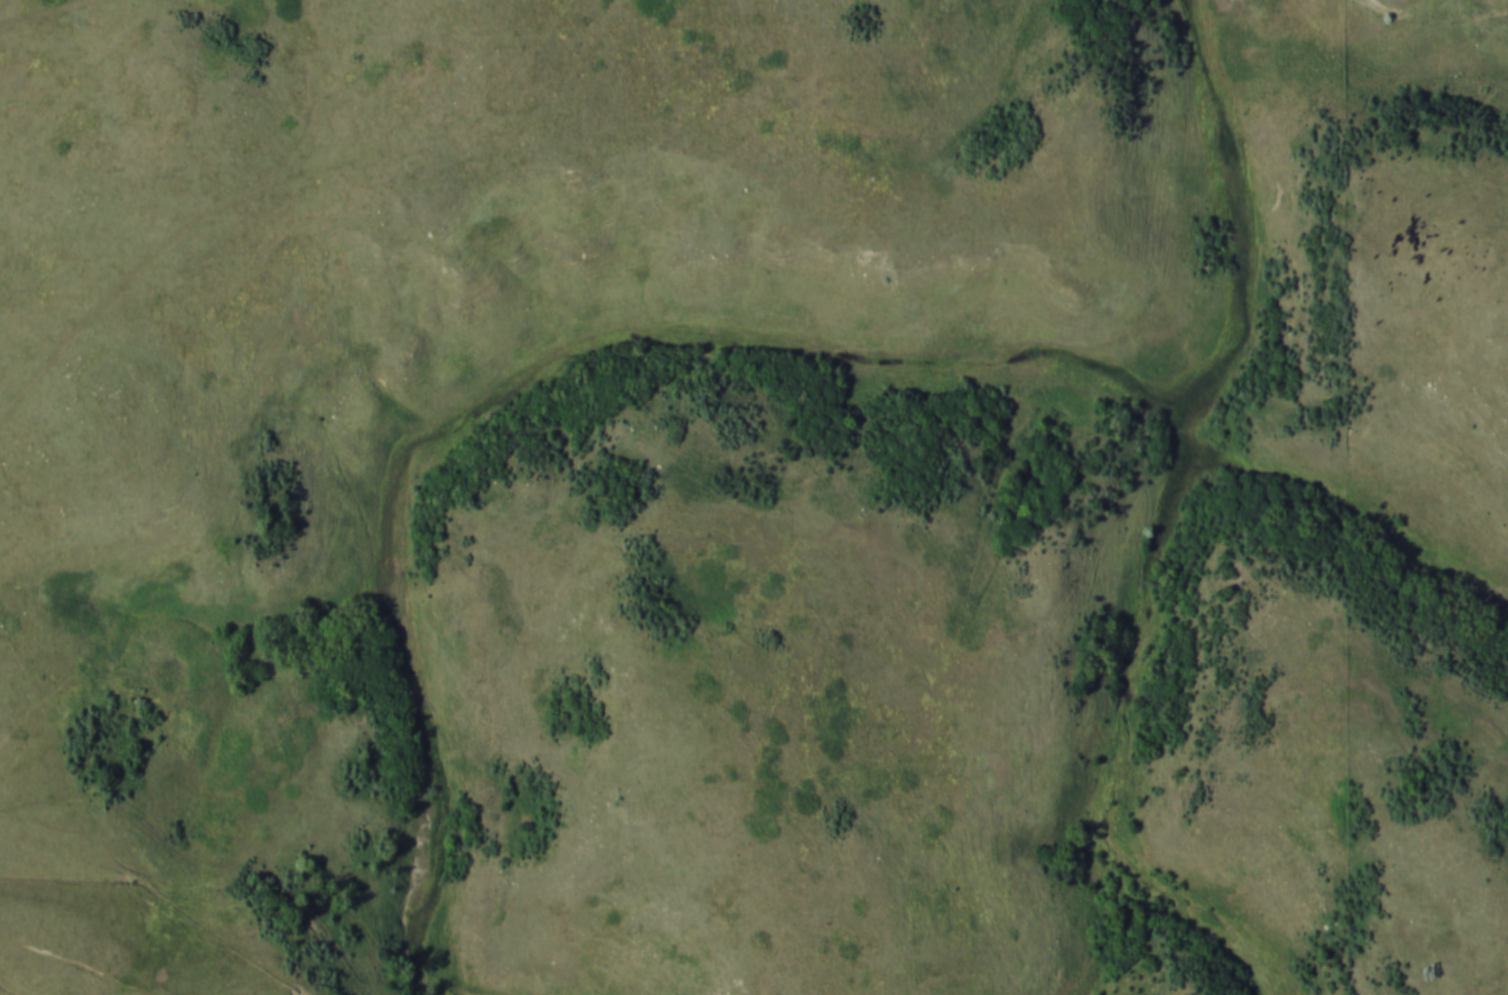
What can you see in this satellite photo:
road: (38, 9)
road: (1432, 20)

